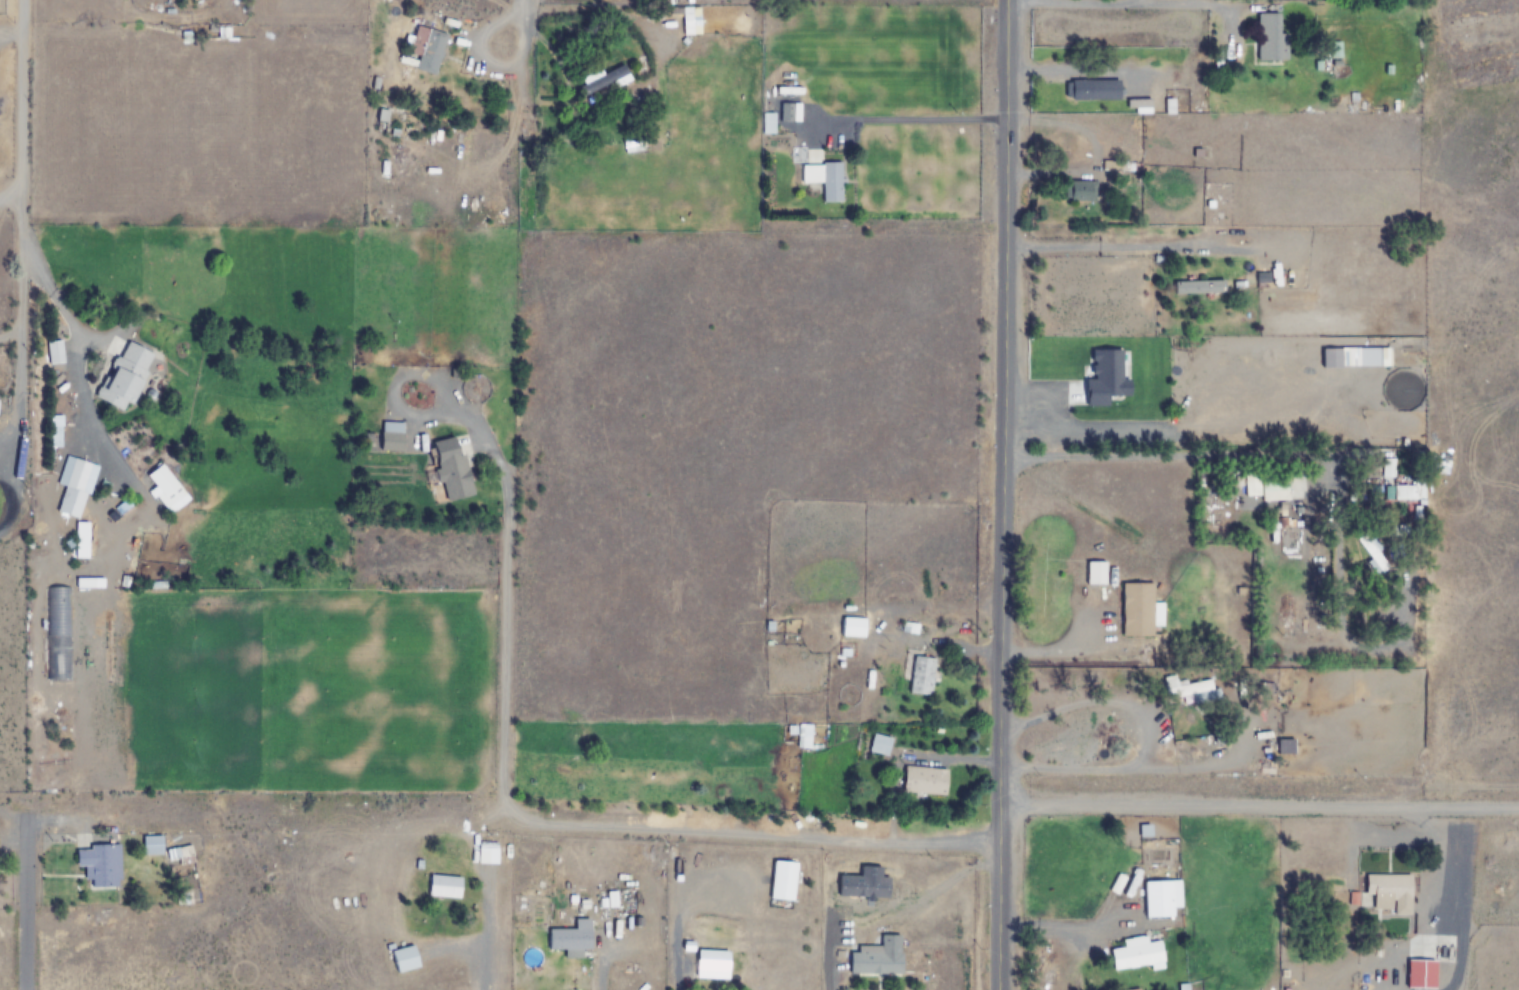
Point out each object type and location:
road: (522, 26)
building: (1271, 36)
building: (424, 48)
building: (602, 79)
building: (1082, 90)
building: (789, 111)
building: (824, 180)
building: (1081, 192)
road: (9, 199)
road: (18, 223)
building: (1261, 270)
building: (1200, 287)
building: (126, 374)
building: (390, 435)
building: (448, 468)
building: (1287, 486)
building: (73, 487)
road: (1001, 494)
building: (1371, 551)
building: (1101, 573)
building: (1137, 609)
building: (855, 627)
building: (924, 675)
building: (1187, 688)
building: (882, 744)
building: (1284, 745)
building: (927, 779)
road: (1258, 802)
building: (150, 844)
building: (484, 852)
building: (97, 863)
building: (786, 880)
building: (443, 885)
building: (1389, 891)
building: (1163, 897)
road: (25, 906)
building: (569, 938)
building: (1139, 953)
building: (879, 957)
building: (402, 958)
building: (713, 963)
building: (1421, 973)

